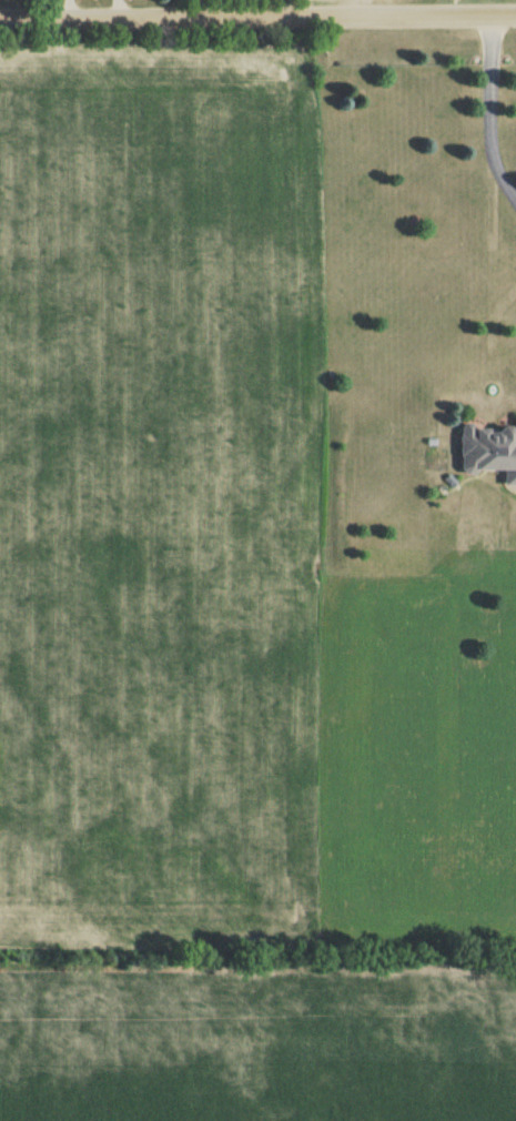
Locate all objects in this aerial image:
road: (65, 10)
road: (118, 10)
road: (257, 19)
road: (486, 113)
building: (488, 453)

